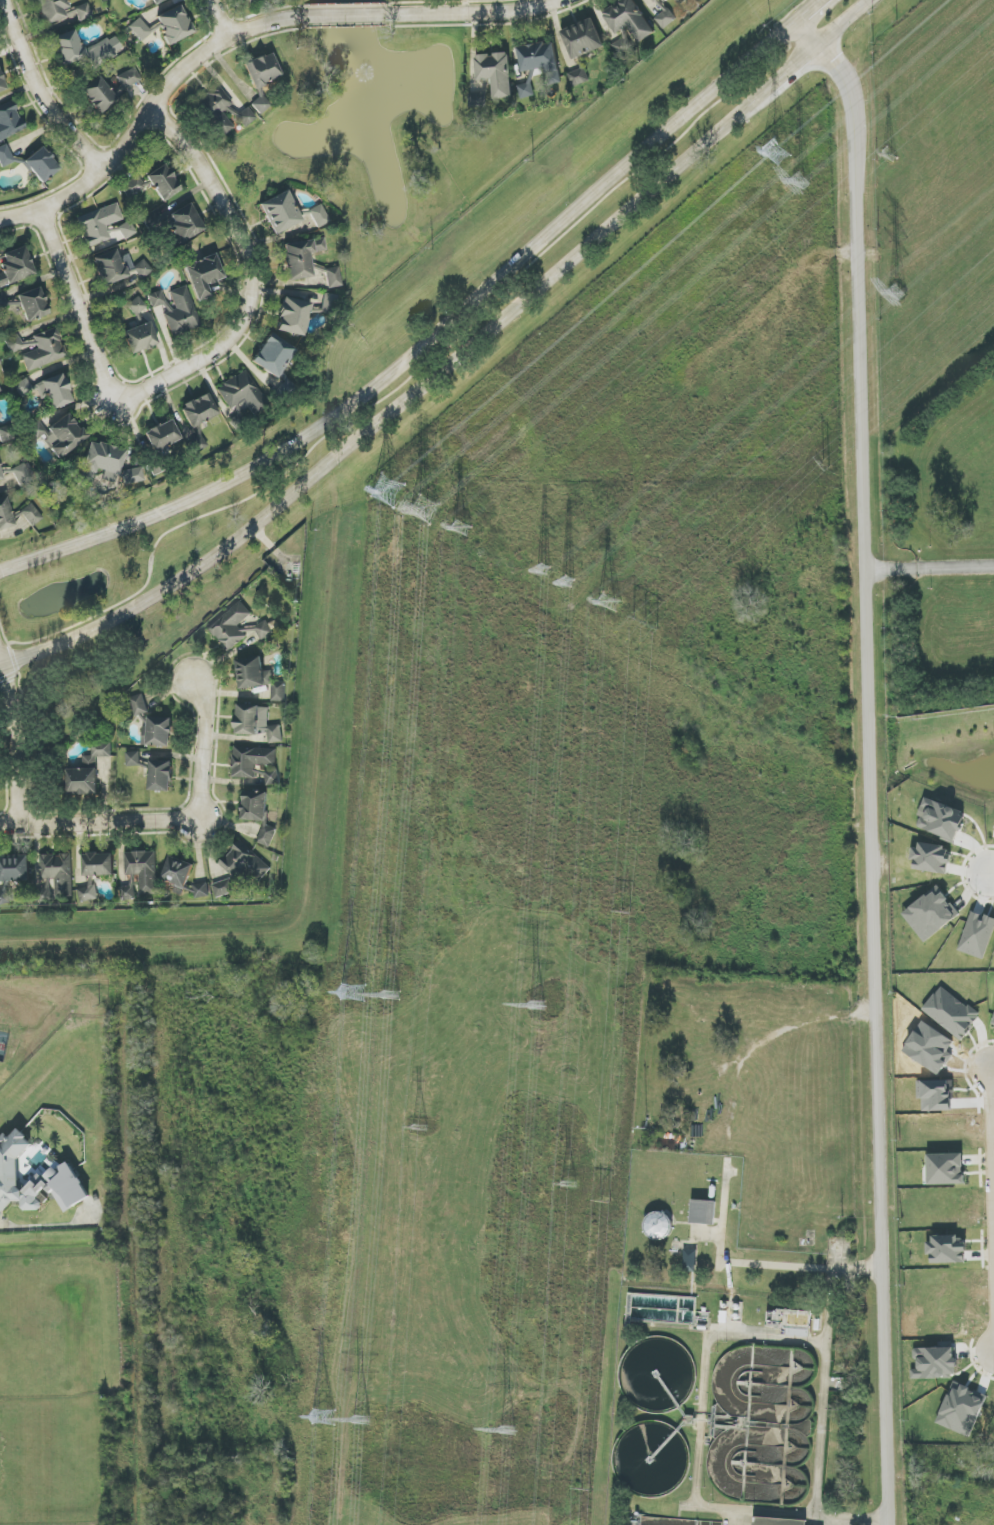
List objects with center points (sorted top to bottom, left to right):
building: (248, 0)
building: (157, 1)
building: (657, 1)
building: (680, 1)
building: (52, 10)
road: (807, 10)
building: (83, 12)
road: (480, 14)
road: (344, 15)
building: (664, 16)
road: (218, 18)
building: (629, 19)
road: (845, 23)
building: (174, 25)
building: (140, 29)
building: (582, 39)
building: (622, 43)
building: (83, 49)
building: (538, 57)
building: (262, 70)
building: (496, 73)
fountain: (369, 76)
road: (785, 76)
building: (578, 77)
building: (128, 78)
building: (2, 84)
building: (525, 90)
road: (38, 93)
building: (99, 95)
building: (476, 100)
building: (261, 103)
building: (216, 109)
road: (144, 116)
building: (246, 117)
building: (9, 121)
power tower: (793, 137)
building: (5, 156)
power tower: (889, 158)
building: (41, 165)
power tower: (799, 180)
building: (163, 183)
building: (133, 186)
building: (280, 212)
building: (319, 216)
building: (186, 222)
building: (98, 225)
road: (934, 228)
building: (124, 230)
building: (301, 257)
building: (15, 266)
building: (118, 267)
road: (792, 273)
building: (203, 275)
road: (250, 275)
building: (333, 277)
power tower: (897, 296)
building: (156, 299)
building: (6, 302)
building: (329, 303)
building: (33, 304)
building: (137, 306)
road: (79, 308)
building: (181, 312)
building: (293, 316)
road: (598, 335)
building: (140, 338)
road: (427, 343)
building: (38, 349)
building: (274, 355)
road: (416, 371)
building: (0, 391)
building: (54, 391)
building: (242, 392)
building: (199, 410)
road: (391, 411)
building: (0, 416)
building: (6, 433)
building: (60, 435)
building: (162, 435)
building: (101, 462)
power tower: (826, 466)
building: (22, 475)
building: (0, 476)
building: (133, 476)
power tower: (389, 493)
power tower: (421, 513)
building: (5, 514)
building: (31, 515)
power tower: (459, 529)
road: (935, 564)
power tower: (560, 578)
power tower: (608, 606)
building: (230, 626)
power tower: (646, 626)
building: (264, 630)
road: (6, 643)
building: (259, 677)
building: (139, 705)
building: (257, 722)
building: (158, 732)
road: (16, 742)
power tower: (371, 749)
road: (202, 751)
building: (133, 759)
building: (251, 761)
road: (880, 762)
building: (88, 771)
building: (161, 775)
building: (272, 777)
building: (258, 813)
building: (942, 820)
road: (98, 824)
building: (931, 858)
building: (99, 864)
building: (243, 866)
building: (15, 868)
building: (143, 870)
building: (58, 872)
building: (177, 872)
road: (991, 873)
building: (223, 888)
building: (201, 890)
building: (87, 893)
building: (127, 893)
building: (4, 897)
power tower: (627, 912)
building: (931, 914)
building: (977, 935)
road: (370, 984)
power tower: (389, 995)
power tower: (352, 1005)
power tower: (537, 1006)
building: (993, 1024)
power tower: (419, 1129)
road: (993, 1141)
building: (945, 1169)
building: (35, 1179)
power tower: (567, 1185)
power tower: (605, 1202)
building: (703, 1212)
building: (658, 1225)
road: (136, 1239)
building: (947, 1249)
road: (736, 1257)
power tower: (335, 1266)
building: (788, 1320)
road: (823, 1393)
power tower: (358, 1420)
power tower: (505, 1431)
power tower: (587, 1491)
building: (778, 1521)

